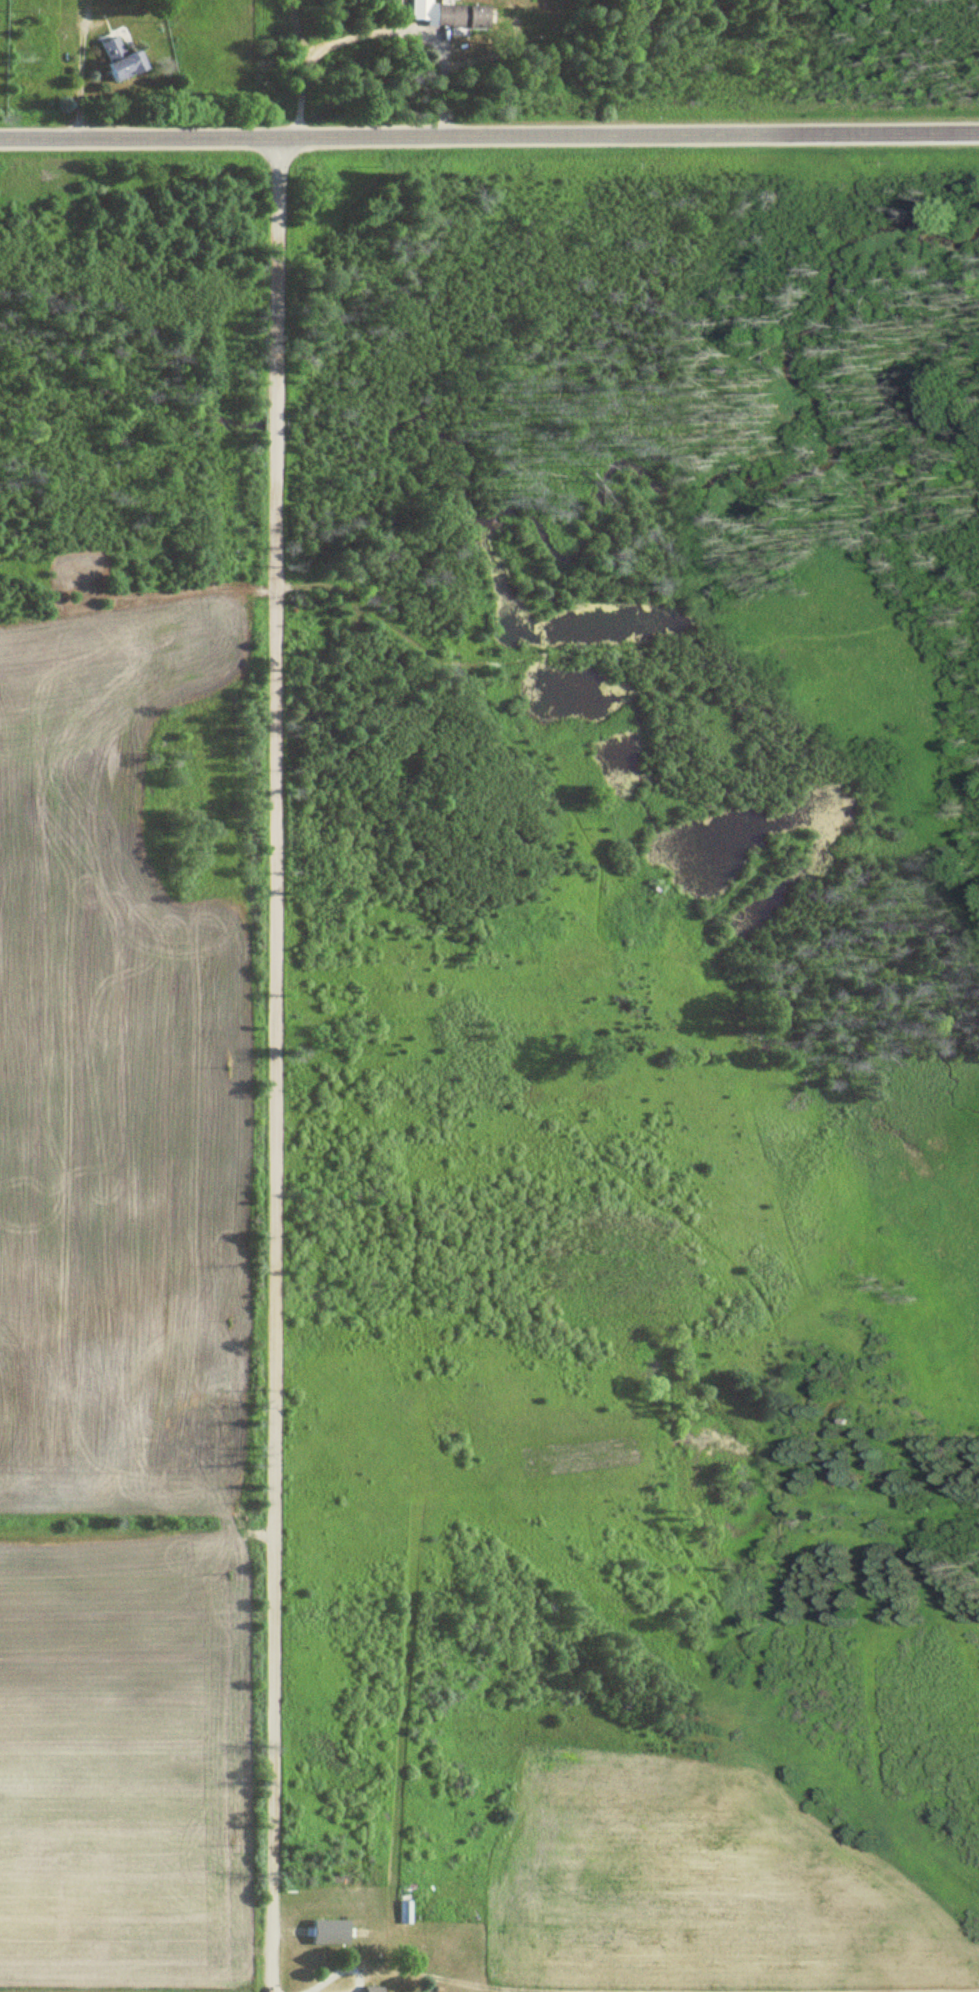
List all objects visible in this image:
building: (443, 14)
road: (319, 49)
building: (117, 60)
road: (81, 78)
road: (489, 138)
road: (274, 1065)
building: (402, 1912)

